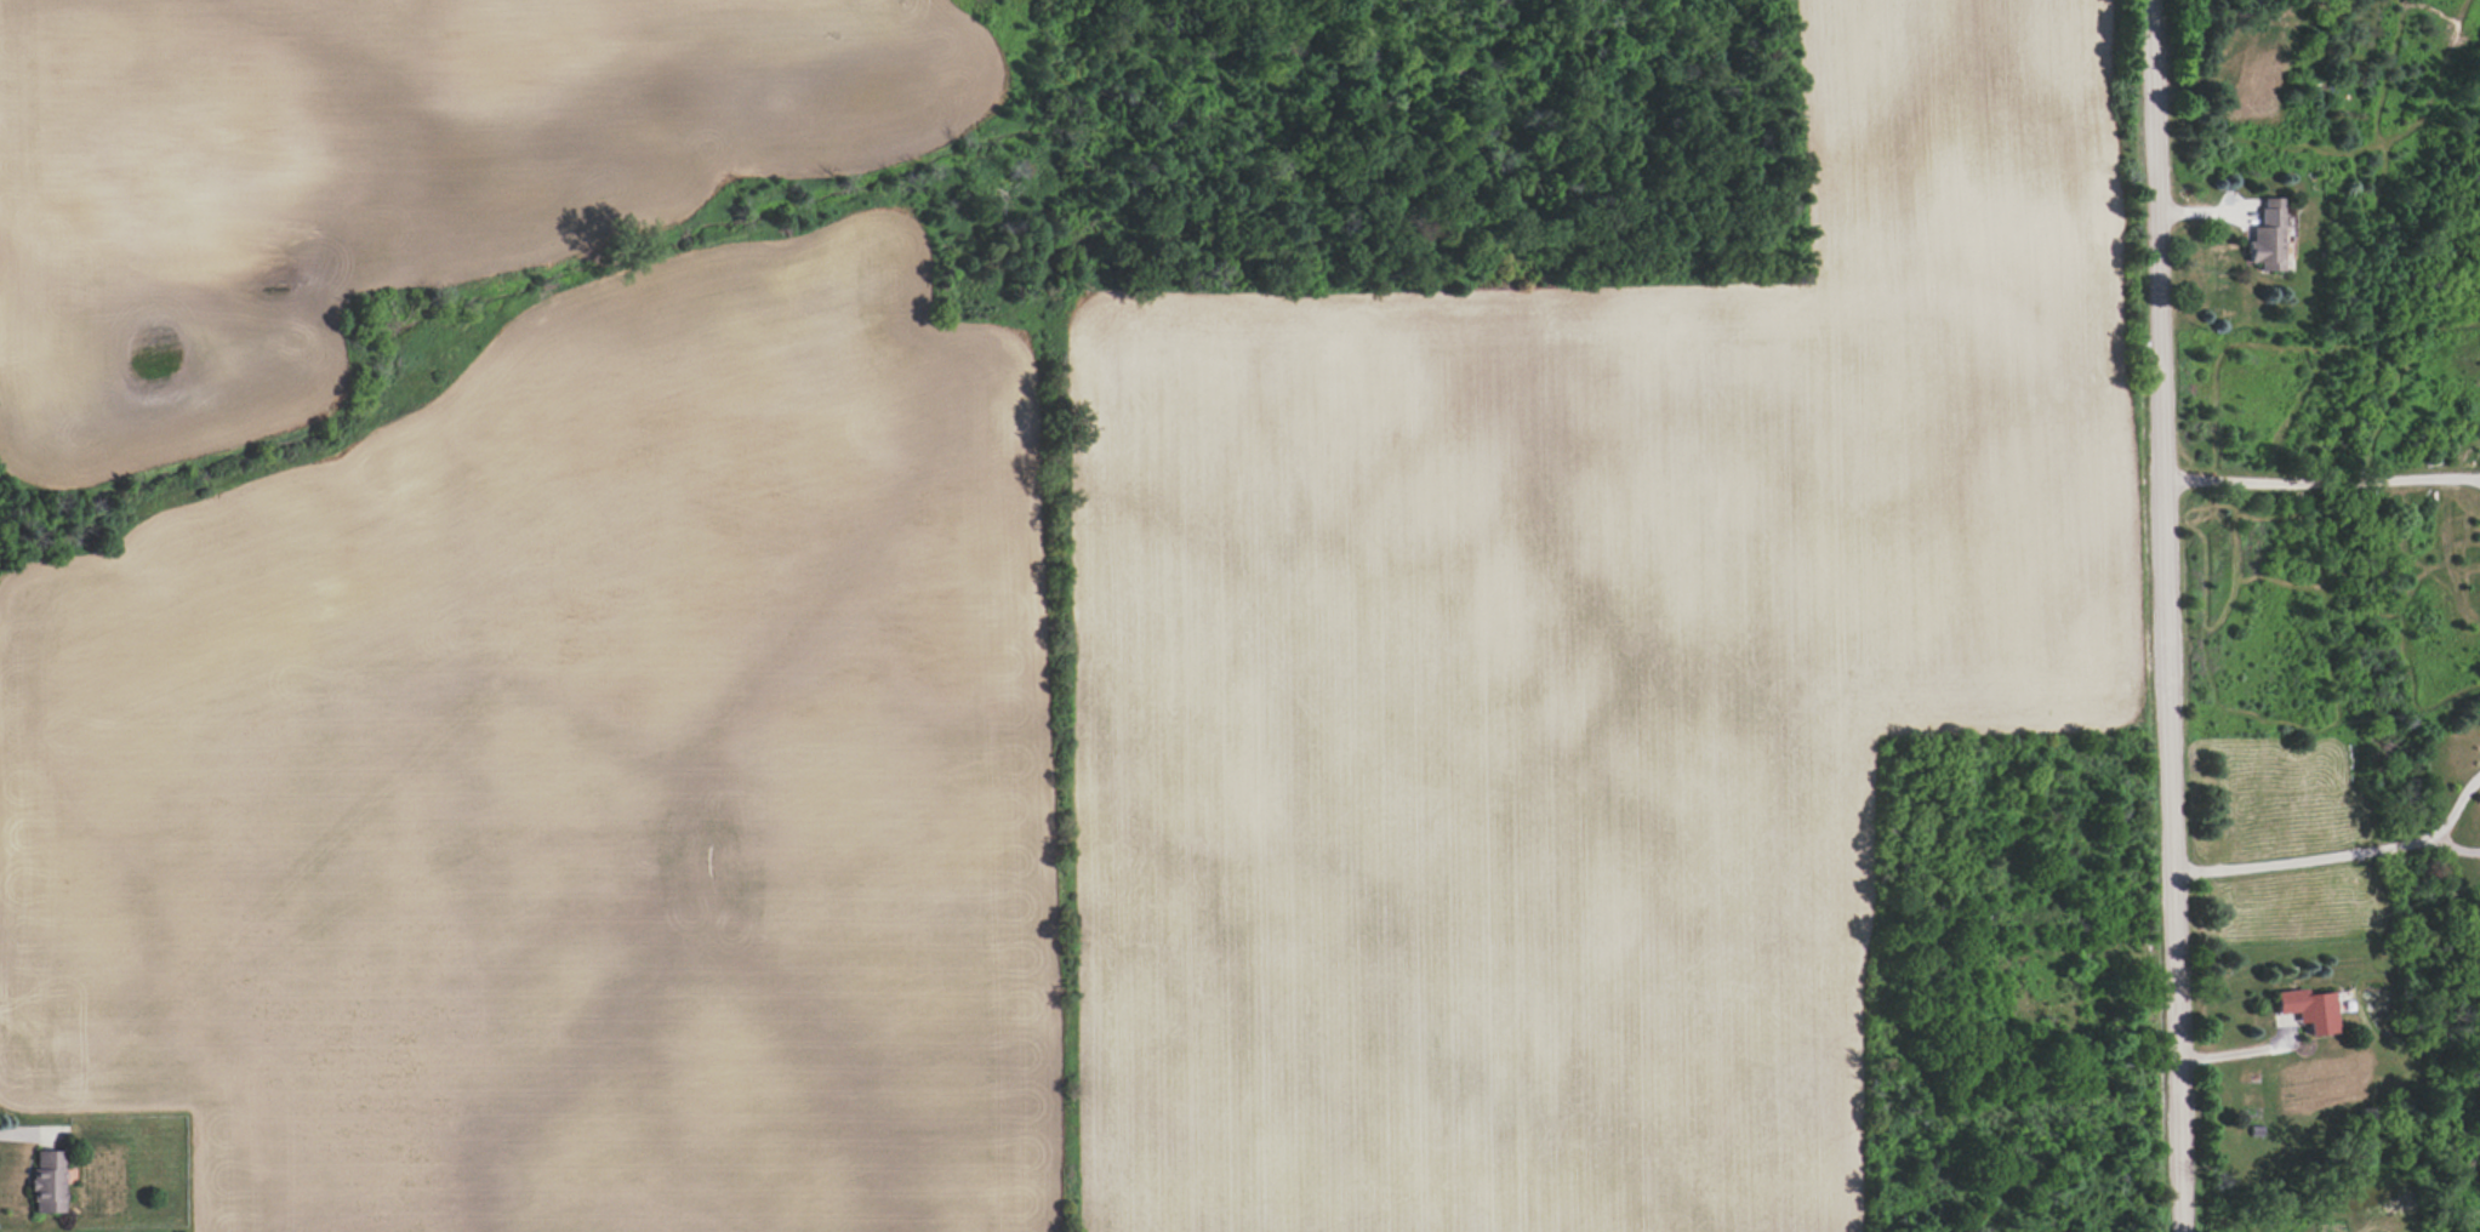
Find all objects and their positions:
building: (2267, 236)
road: (2321, 485)
road: (2166, 616)
crop: (984, 638)
road: (2457, 808)
road: (2456, 848)
road: (2303, 857)
building: (2308, 1009)
road: (2239, 1062)
building: (47, 1181)

